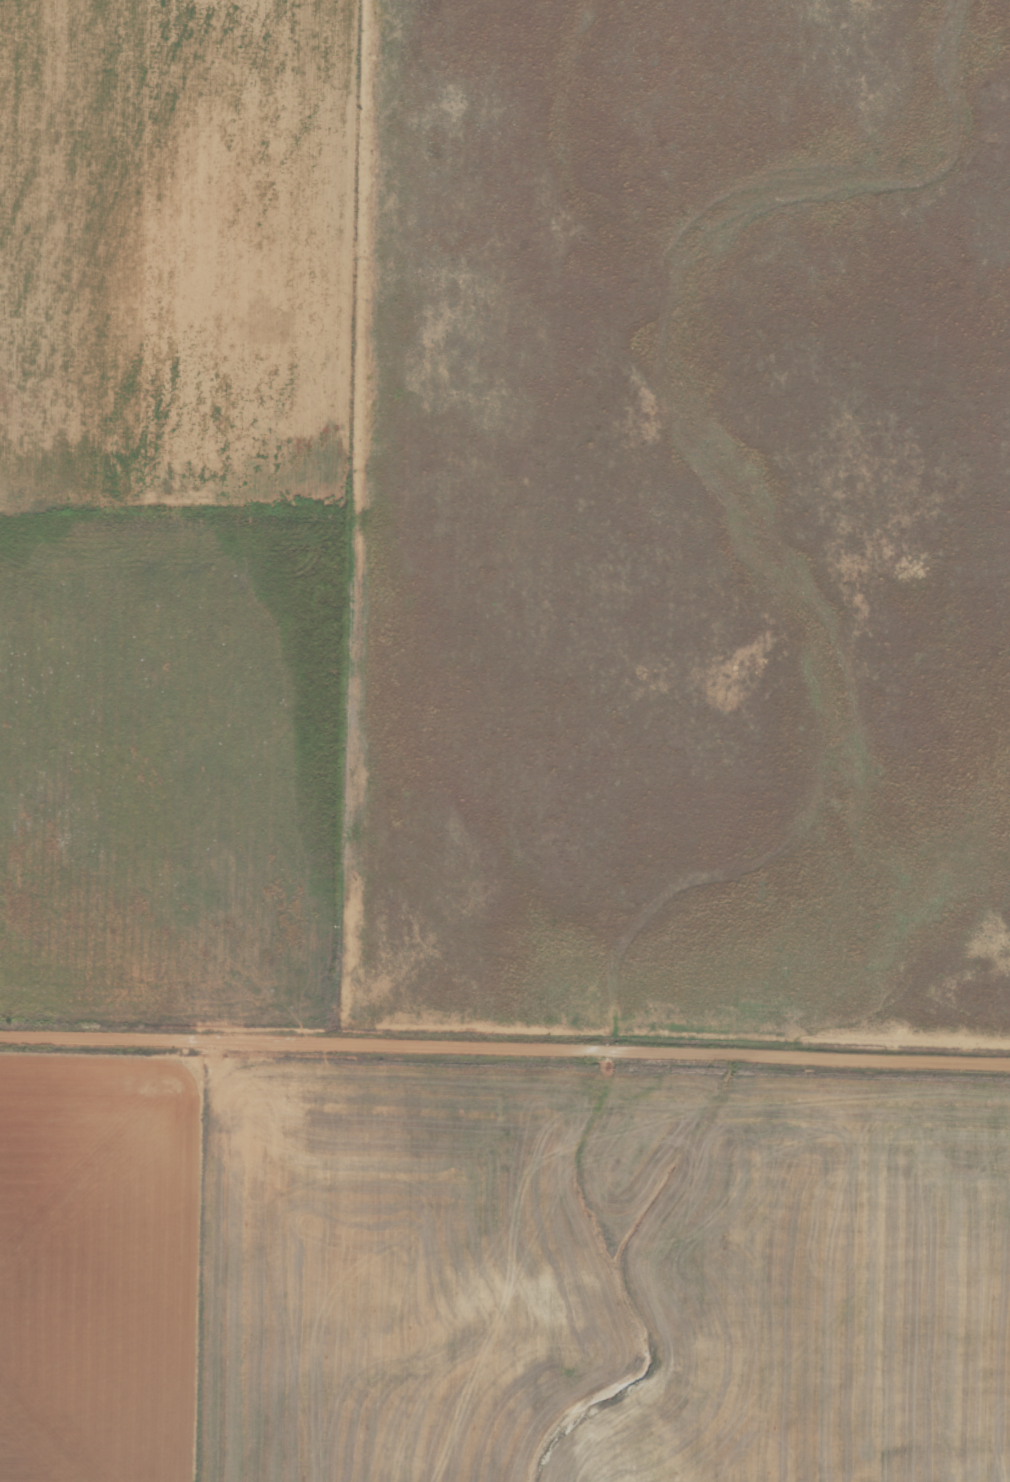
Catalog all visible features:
road: (505, 1044)

